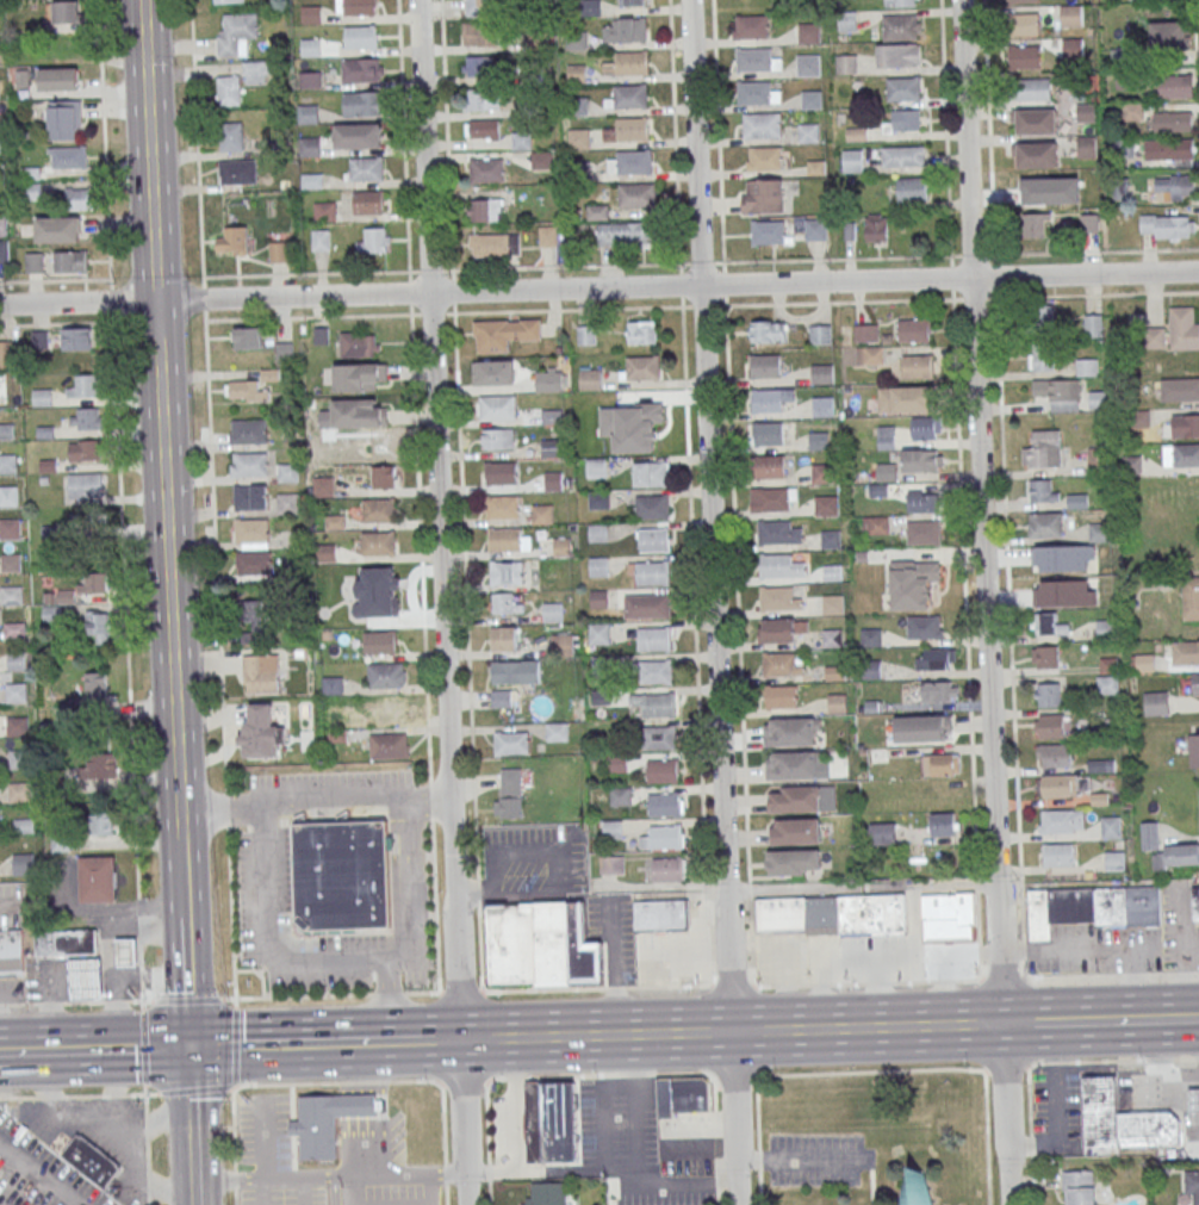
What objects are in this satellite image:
building: (225, 1)
building: (1021, 1)
building: (630, 2)
building: (902, 2)
building: (359, 7)
building: (477, 7)
building: (590, 7)
building: (67, 12)
building: (1071, 14)
building: (311, 15)
building: (846, 20)
building: (1026, 24)
building: (900, 26)
building: (752, 27)
building: (623, 31)
building: (809, 32)
building: (236, 33)
building: (479, 35)
building: (1169, 35)
building: (360, 37)
building: (577, 39)
building: (536, 41)
building: (1073, 46)
building: (311, 48)
building: (899, 55)
building: (1024, 56)
building: (753, 61)
building: (630, 63)
building: (846, 63)
building: (808, 64)
building: (479, 68)
building: (361, 70)
building: (577, 73)
building: (532, 75)
building: (60, 79)
building: (310, 80)
building: (242, 82)
building: (1176, 85)
building: (901, 88)
building: (1033, 88)
building: (753, 93)
building: (629, 98)
building: (812, 99)
building: (480, 101)
building: (362, 104)
building: (579, 106)
building: (1132, 111)
building: (1086, 112)
building: (309, 116)
building: (64, 120)
building: (903, 120)
building: (1036, 120)
building: (1174, 120)
building: (763, 126)
building: (482, 130)
building: (630, 130)
building: (808, 132)
building: (230, 137)
building: (359, 137)
building: (580, 138)
building: (522, 141)
building: (1087, 145)
building: (311, 147)
building: (1123, 147)
building: (1175, 148)
building: (1036, 154)
building: (905, 155)
building: (67, 157)
building: (764, 159)
road: (198, 160)
building: (852, 160)
building: (541, 161)
building: (634, 163)
building: (366, 169)
building: (580, 170)
building: (487, 172)
building: (241, 173)
road: (448, 178)
building: (1178, 185)
building: (912, 188)
building: (636, 195)
building: (762, 195)
building: (77, 199)
building: (368, 203)
building: (485, 211)
building: (327, 212)
building: (597, 212)
building: (1089, 222)
building: (1036, 224)
building: (1168, 225)
building: (876, 226)
building: (4, 228)
building: (814, 229)
building: (57, 231)
building: (768, 231)
building: (625, 235)
building: (547, 236)
building: (237, 238)
building: (321, 241)
building: (374, 242)
building: (493, 246)
building: (5, 251)
building: (279, 251)
building: (70, 262)
building: (35, 263)
road: (701, 263)
road: (55, 280)
road: (815, 281)
road: (293, 297)
road: (77, 302)
road: (307, 317)
building: (1042, 317)
road: (56, 324)
building: (1093, 324)
building: (1184, 327)
building: (768, 330)
building: (914, 331)
building: (641, 333)
building: (820, 334)
building: (866, 334)
building: (503, 335)
building: (586, 336)
building: (1154, 337)
building: (248, 338)
building: (77, 340)
building: (359, 344)
building: (6, 354)
building: (870, 355)
building: (1042, 356)
building: (765, 366)
building: (1086, 366)
building: (918, 367)
building: (642, 368)
building: (495, 373)
building: (822, 374)
building: (360, 378)
building: (590, 379)
building: (549, 380)
road: (160, 385)
building: (85, 387)
building: (1179, 389)
building: (248, 391)
building: (1058, 393)
building: (42, 397)
road: (435, 398)
building: (905, 398)
building: (1098, 398)
building: (766, 400)
building: (824, 406)
building: (497, 408)
building: (360, 414)
building: (87, 420)
building: (1185, 424)
building: (927, 427)
building: (6, 431)
building: (248, 431)
building: (769, 435)
building: (886, 436)
building: (497, 440)
building: (819, 441)
building: (372, 443)
building: (553, 447)
building: (1043, 449)
building: (85, 451)
building: (1181, 454)
building: (1098, 459)
building: (920, 461)
building: (1132, 464)
building: (7, 465)
building: (249, 465)
building: (598, 467)
building: (769, 467)
building: (887, 472)
building: (287, 473)
building: (501, 473)
building: (651, 474)
building: (824, 474)
building: (384, 478)
building: (549, 482)
building: (85, 486)
building: (324, 486)
building: (1043, 490)
building: (8, 497)
building: (251, 497)
road: (119, 501)
building: (599, 501)
building: (772, 501)
building: (924, 501)
building: (287, 504)
building: (826, 507)
building: (502, 508)
building: (653, 508)
building: (379, 511)
building: (542, 515)
building: (91, 521)
building: (1045, 523)
building: (876, 524)
building: (10, 529)
building: (51, 532)
building: (924, 532)
building: (1099, 532)
building: (598, 533)
building: (251, 534)
building: (779, 534)
building: (505, 540)
building: (654, 540)
building: (832, 540)
building: (378, 544)
building: (325, 553)
building: (11, 564)
building: (253, 564)
building: (599, 566)
building: (782, 567)
building: (505, 573)
building: (653, 573)
building: (833, 573)
building: (92, 583)
building: (913, 583)
building: (372, 589)
building: (12, 596)
building: (57, 597)
building: (1191, 597)
building: (599, 598)
building: (779, 600)
road: (716, 602)
road: (984, 602)
building: (507, 603)
building: (833, 605)
building: (648, 608)
building: (552, 613)
building: (50, 615)
building: (383, 616)
building: (253, 621)
building: (1048, 623)
building: (925, 626)
building: (98, 627)
building: (1106, 629)
building: (14, 631)
building: (778, 632)
building: (599, 634)
building: (871, 638)
building: (503, 639)
building: (833, 639)
building: (656, 640)
building: (380, 642)
building: (564, 645)
building: (1185, 652)
building: (1045, 656)
building: (936, 658)
building: (15, 661)
building: (1144, 661)
building: (782, 665)
building: (871, 669)
building: (515, 672)
building: (260, 673)
building: (657, 673)
building: (386, 676)
building: (1195, 683)
building: (333, 685)
building: (95, 688)
building: (940, 690)
building: (17, 692)
building: (1048, 694)
building: (782, 697)
building: (501, 698)
building: (838, 703)
building: (1156, 703)
building: (659, 707)
building: (391, 708)
building: (1052, 726)
building: (18, 727)
building: (924, 727)
building: (791, 731)
building: (260, 732)
building: (557, 732)
building: (660, 739)
building: (511, 744)
building: (389, 746)
building: (1193, 750)
building: (1055, 754)
building: (19, 759)
building: (942, 763)
building: (617, 764)
building: (795, 764)
building: (1101, 764)
building: (100, 769)
building: (664, 774)
building: (57, 778)
building: (1064, 784)
parking lot: (331, 787)
building: (20, 793)
road: (178, 793)
building: (509, 794)
building: (936, 795)
road: (430, 797)
building: (620, 797)
building: (795, 799)
road: (338, 800)
road: (430, 802)
road: (223, 803)
building: (665, 807)
road: (225, 810)
road: (288, 814)
building: (1061, 820)
building: (944, 824)
building: (102, 825)
building: (24, 826)
building: (1111, 826)
building: (611, 828)
building: (796, 831)
building: (883, 832)
building: (667, 838)
building: (62, 841)
building: (1167, 847)
building: (1058, 853)
road: (180, 857)
building: (1114, 859)
building: (24, 864)
building: (788, 864)
building: (611, 865)
building: (667, 870)
building: (343, 874)
building: (97, 880)
road: (412, 880)
road: (863, 887)
parking lot: (261, 889)
building: (1195, 903)
road: (435, 907)
building: (1094, 907)
road: (230, 913)
building: (832, 914)
building: (661, 915)
building: (949, 917)
road: (294, 924)
road: (403, 930)
road: (297, 931)
building: (62, 943)
building: (541, 946)
road: (272, 950)
road: (279, 950)
building: (12, 954)
building: (123, 954)
parking lot: (330, 964)
road: (185, 971)
road: (260, 971)
road: (256, 974)
building: (82, 979)
road: (802, 985)
road: (389, 994)
road: (185, 1000)
road: (460, 1000)
road: (387, 1001)
road: (1188, 1018)
road: (1164, 1019)
road: (1086, 1021)
road: (1012, 1024)
road: (732, 1032)
road: (447, 1039)
road: (1058, 1041)
road: (372, 1042)
road: (250, 1045)
traffic signals: (190, 1048)
road: (129, 1049)
road: (33, 1050)
road: (956, 1069)
road: (599, 1076)
road: (361, 1082)
road: (243, 1086)
road: (128, 1094)
road: (443, 1097)
building: (684, 1097)
building: (1097, 1098)
building: (1194, 1100)
road: (518, 1105)
parking lot: (1058, 1106)
gas station: (1160, 1107)
road: (384, 1108)
building: (327, 1120)
building: (551, 1123)
road: (1060, 1124)
road: (192, 1126)
building: (1149, 1126)
parking lot: (262, 1128)
building: (1098, 1133)
road: (1031, 1135)
road: (987, 1137)
road: (759, 1139)
road: (261, 1149)
road: (634, 1159)
parking lot: (816, 1159)
road: (799, 1160)
building: (88, 1161)
road: (549, 1172)
road: (445, 1174)
road: (36, 1180)
road: (235, 1180)
road: (329, 1180)
building: (1192, 1184)
building: (1080, 1187)
building: (913, 1188)
road: (427, 1190)
road: (334, 1192)
road: (355, 1192)
road: (305, 1193)
building: (547, 1193)
parking lot: (395, 1194)
road: (446, 1194)
parking lot: (282, 1195)
road: (235, 1197)

